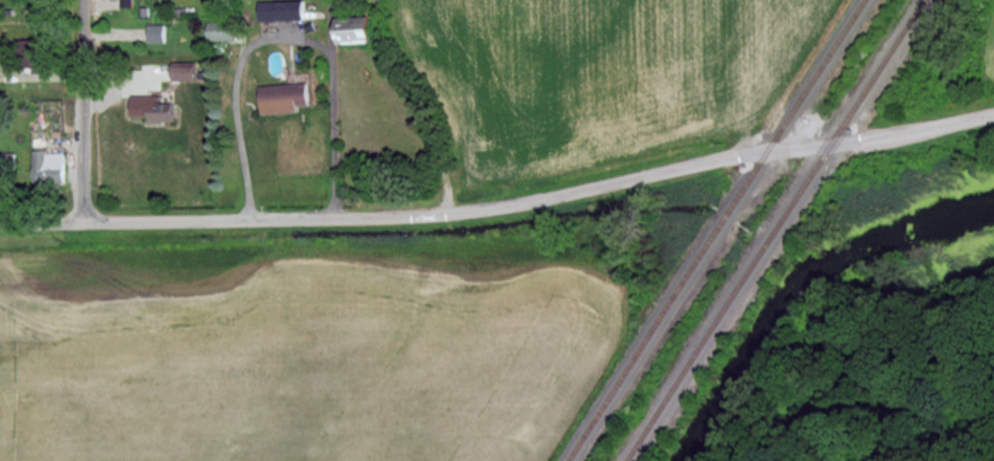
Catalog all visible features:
building: (281, 9)
building: (354, 29)
building: (222, 30)
building: (156, 32)
crop: (992, 63)
crop: (600, 68)
building: (184, 70)
road: (235, 92)
building: (283, 97)
building: (152, 107)
road: (326, 108)
road: (85, 111)
building: (48, 166)
road: (501, 206)
railway: (716, 230)
railway: (776, 230)
crop: (281, 353)

